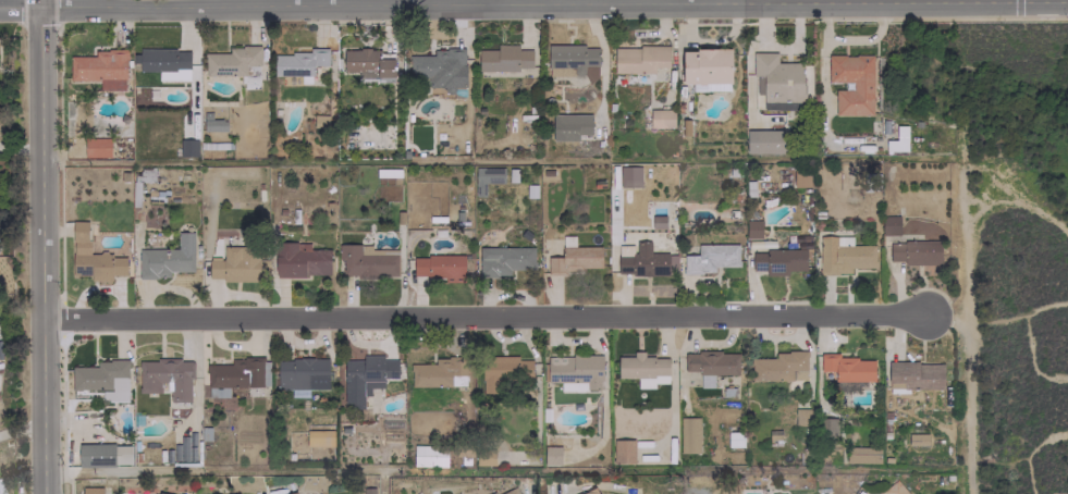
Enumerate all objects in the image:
road: (39, 3)
road: (192, 3)
road: (20, 7)
building: (504, 58)
building: (638, 59)
building: (572, 61)
building: (164, 62)
building: (232, 62)
building: (298, 62)
building: (368, 62)
building: (100, 67)
building: (437, 69)
building: (705, 69)
building: (778, 82)
building: (861, 85)
building: (660, 118)
building: (212, 123)
building: (569, 126)
building: (897, 139)
building: (764, 140)
building: (96, 147)
building: (187, 147)
building: (628, 176)
building: (486, 177)
building: (800, 177)
building: (888, 224)
building: (752, 227)
building: (78, 231)
road: (41, 249)
building: (914, 252)
park: (1009, 252)
building: (843, 255)
building: (573, 257)
building: (165, 258)
building: (710, 258)
building: (299, 259)
building: (366, 260)
building: (503, 260)
building: (643, 261)
building: (97, 265)
building: (233, 265)
building: (437, 265)
road: (483, 316)
building: (710, 365)
building: (778, 367)
building: (846, 367)
building: (642, 369)
building: (503, 371)
building: (238, 372)
building: (299, 372)
building: (438, 372)
building: (575, 372)
building: (913, 374)
building: (364, 376)
building: (165, 378)
building: (102, 379)
building: (848, 385)
building: (217, 392)
building: (802, 416)
building: (827, 430)
building: (688, 434)
building: (318, 437)
building: (916, 439)
building: (622, 450)
building: (95, 454)
building: (861, 454)
building: (428, 455)
building: (551, 455)
building: (367, 487)
building: (894, 489)
building: (90, 490)
building: (510, 491)
building: (590, 491)
building: (158, 493)
building: (293, 493)
building: (491, 493)

